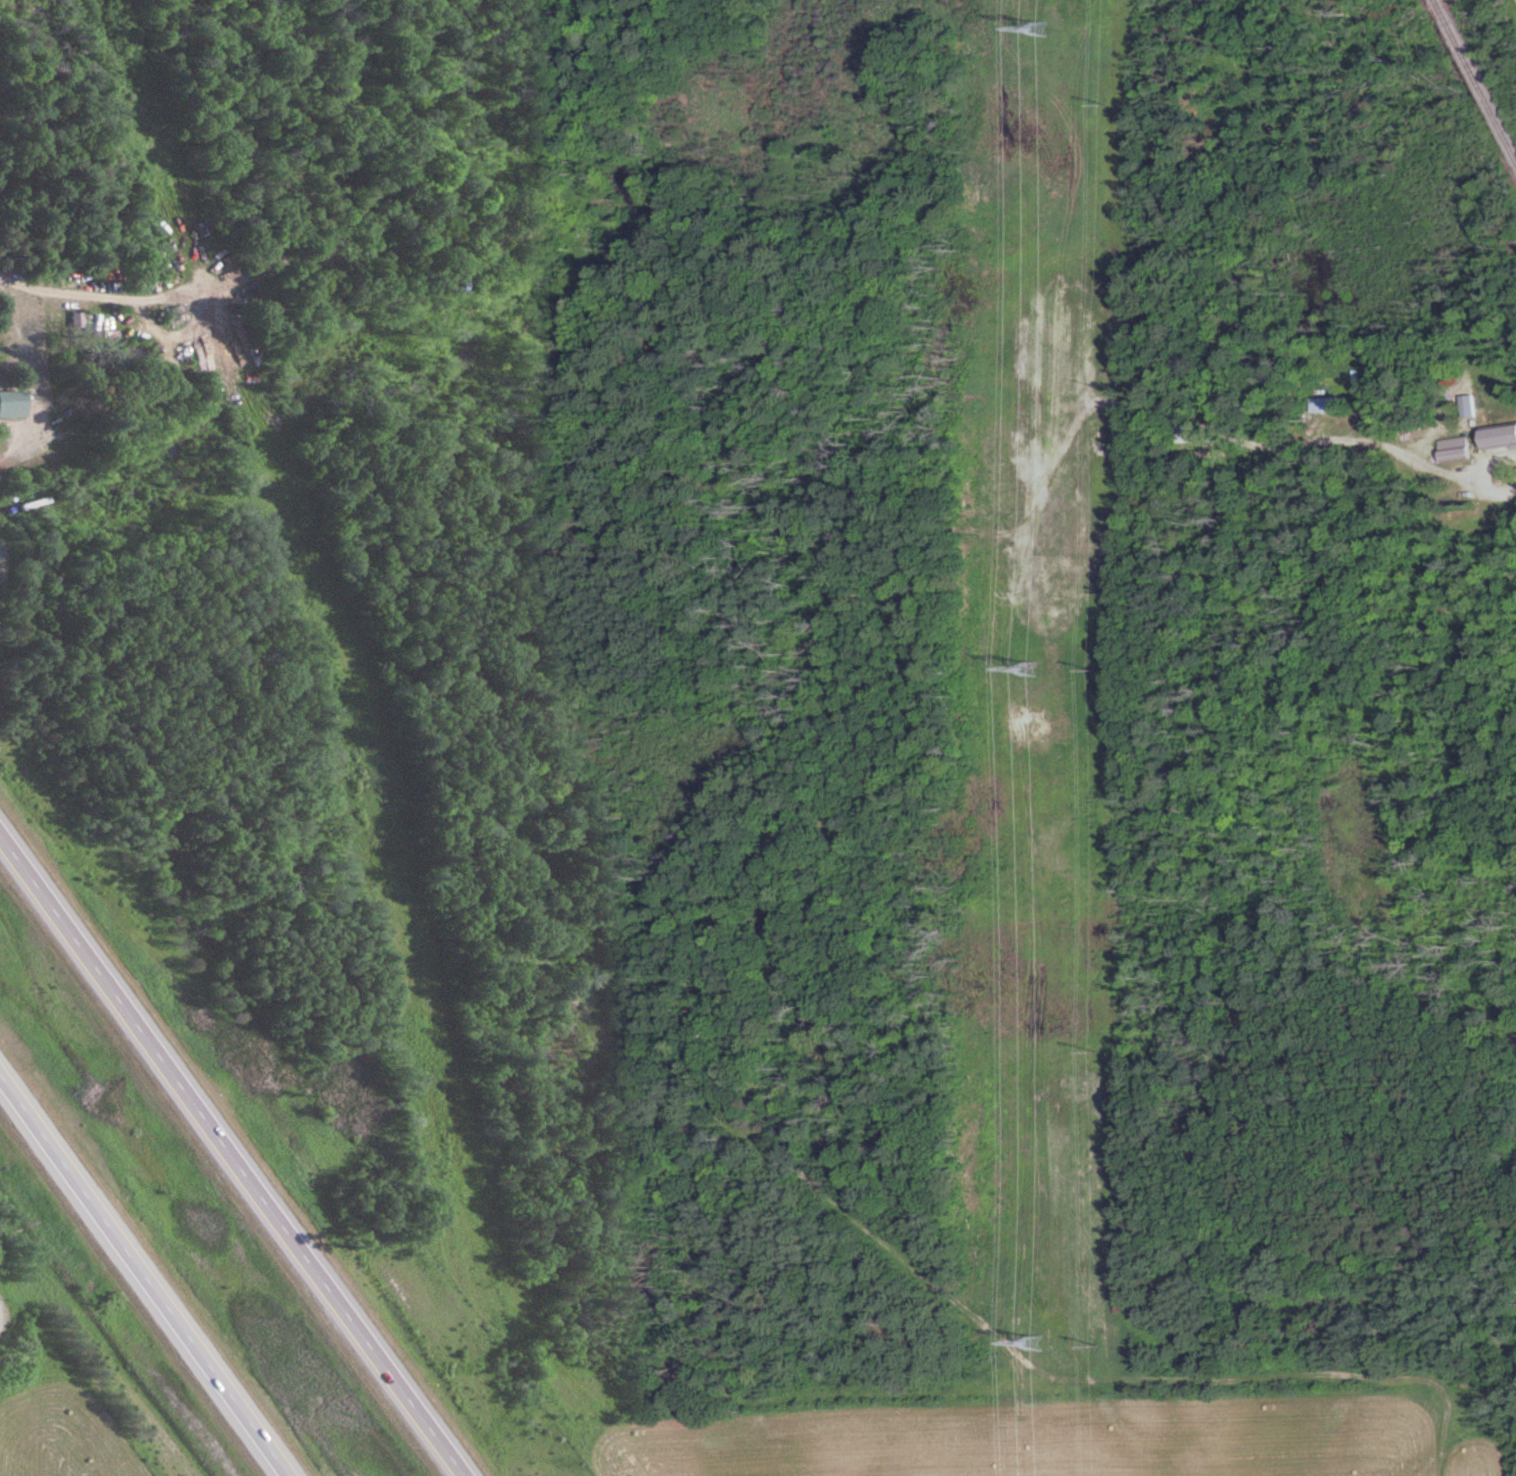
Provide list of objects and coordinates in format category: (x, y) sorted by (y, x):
power tower: (1037, 23)
railway: (1470, 87)
building: (1329, 404)
building: (1500, 436)
building: (1457, 449)
building: (0, 480)
power tower: (1028, 667)
building: (632, 1142)
road: (232, 1151)
road: (147, 1271)
power tower: (1034, 1341)

